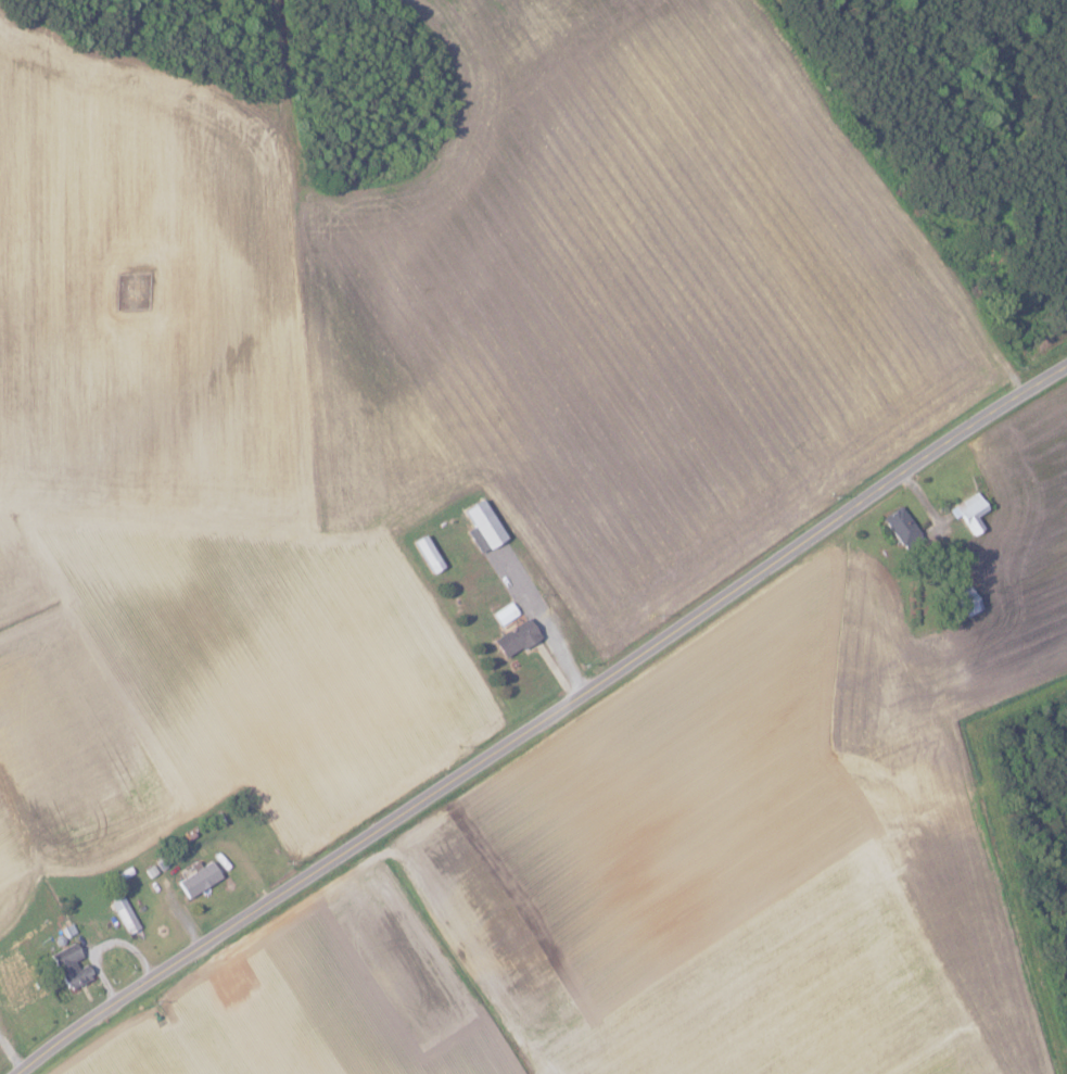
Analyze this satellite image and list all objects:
building: (970, 513)
building: (482, 527)
building: (901, 528)
building: (427, 554)
road: (544, 623)
building: (515, 636)
road: (543, 723)
building: (198, 879)
building: (124, 913)
building: (69, 965)
road: (11, 1054)

